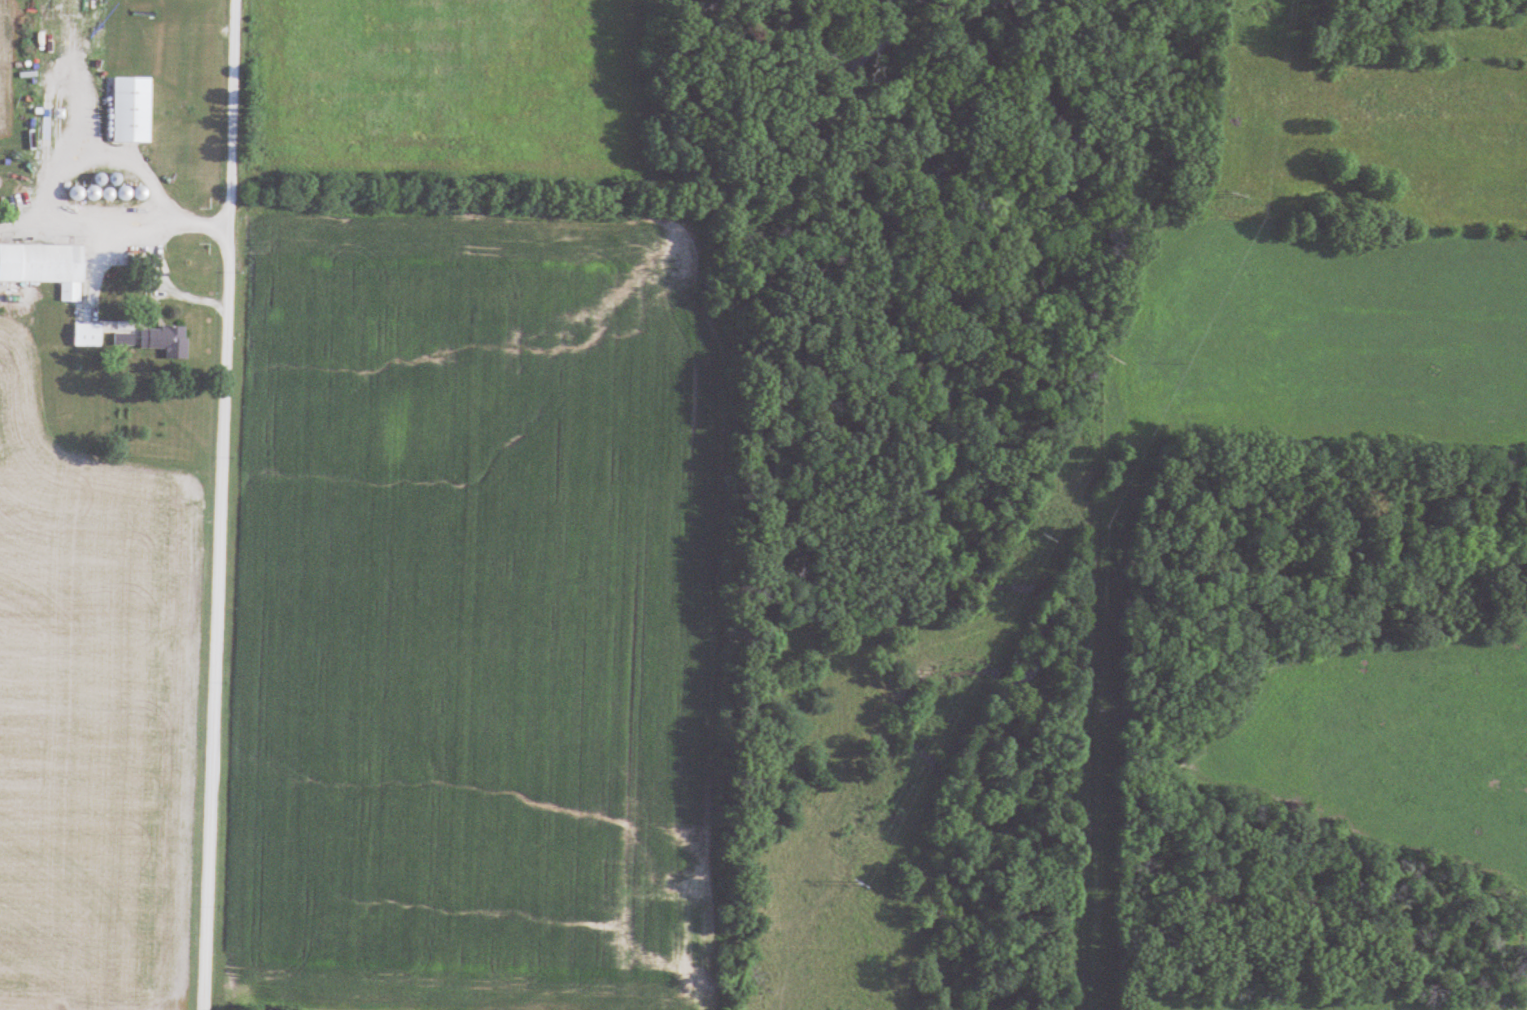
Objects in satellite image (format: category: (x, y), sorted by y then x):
building: (134, 109)
power tower: (1221, 178)
road: (43, 197)
building: (46, 266)
road: (153, 289)
building: (89, 335)
building: (167, 341)
road: (212, 504)
power tower: (839, 862)

